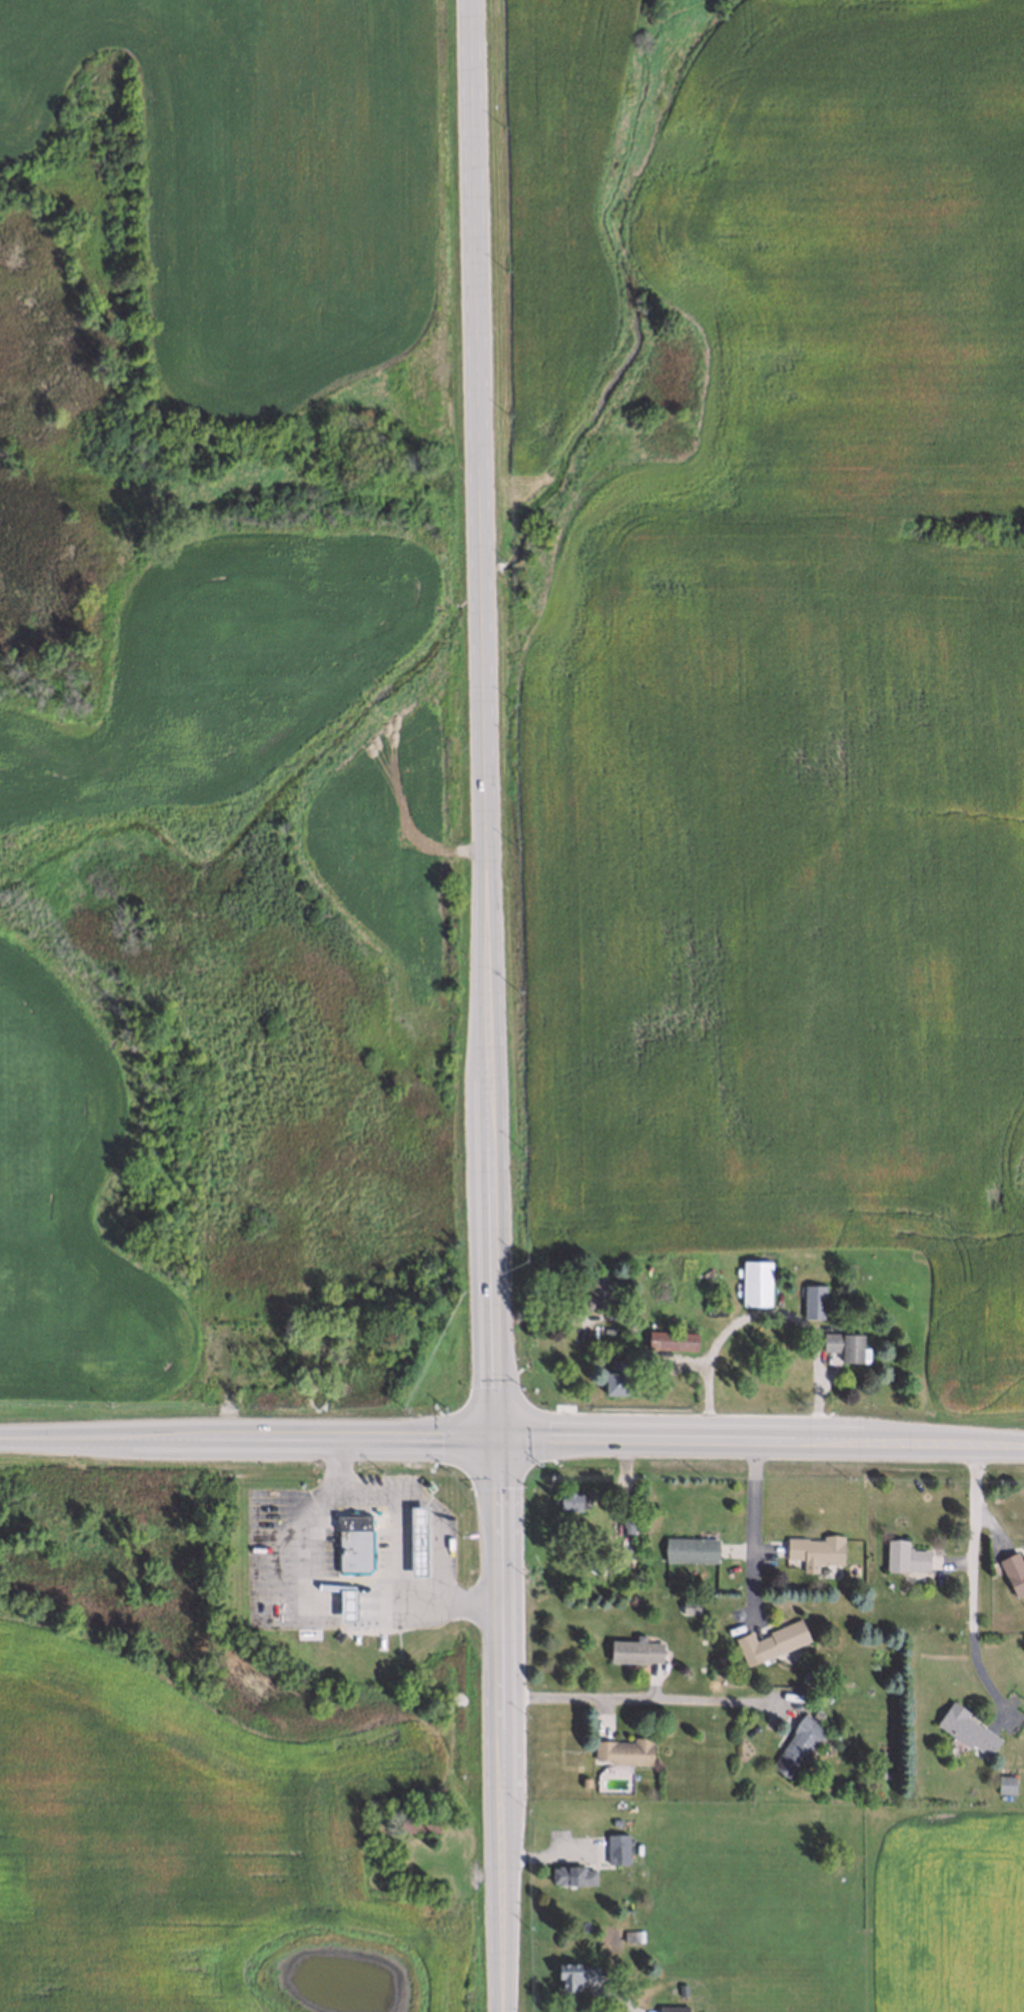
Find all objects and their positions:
road: (489, 1005)
building: (753, 1283)
building: (596, 1287)
building: (812, 1300)
road: (766, 1311)
building: (670, 1338)
building: (843, 1343)
building: (614, 1376)
road: (487, 1436)
road: (999, 1445)
building: (569, 1502)
road: (431, 1508)
building: (625, 1521)
road: (752, 1526)
gas station: (350, 1542)
road: (395, 1543)
building: (355, 1544)
building: (415, 1549)
gas station: (415, 1549)
building: (690, 1549)
building: (814, 1550)
building: (903, 1556)
building: (1013, 1571)
road: (315, 1584)
road: (970, 1586)
building: (688, 1603)
building: (348, 1604)
building: (692, 1609)
road: (344, 1624)
building: (780, 1637)
building: (635, 1650)
building: (718, 1656)
road: (640, 1697)
building: (965, 1728)
building: (797, 1746)
building: (624, 1750)
building: (584, 1780)
building: (1004, 1783)
building: (616, 1820)
building: (417, 1821)
building: (617, 1847)
building: (570, 1874)
building: (630, 1934)
building: (574, 1974)
building: (682, 1987)
building: (672, 2008)

